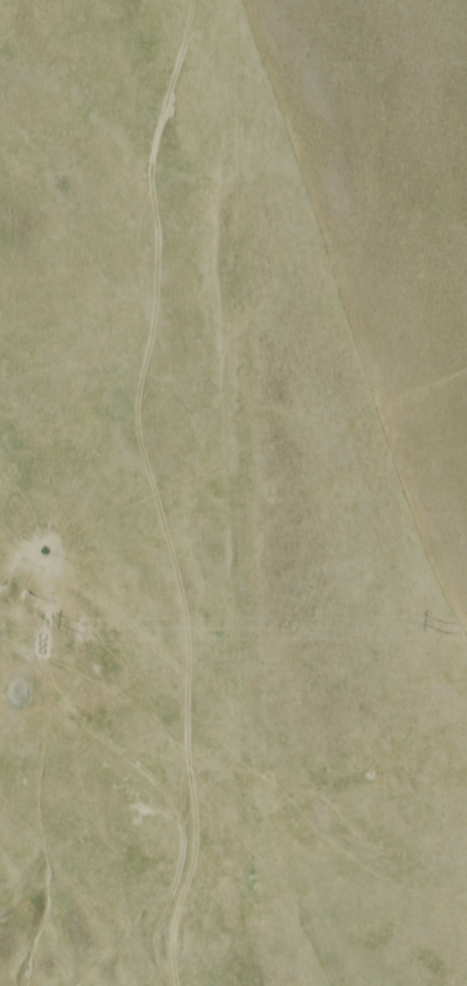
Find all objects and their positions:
power tower: (79, 629)
power tower: (444, 629)

